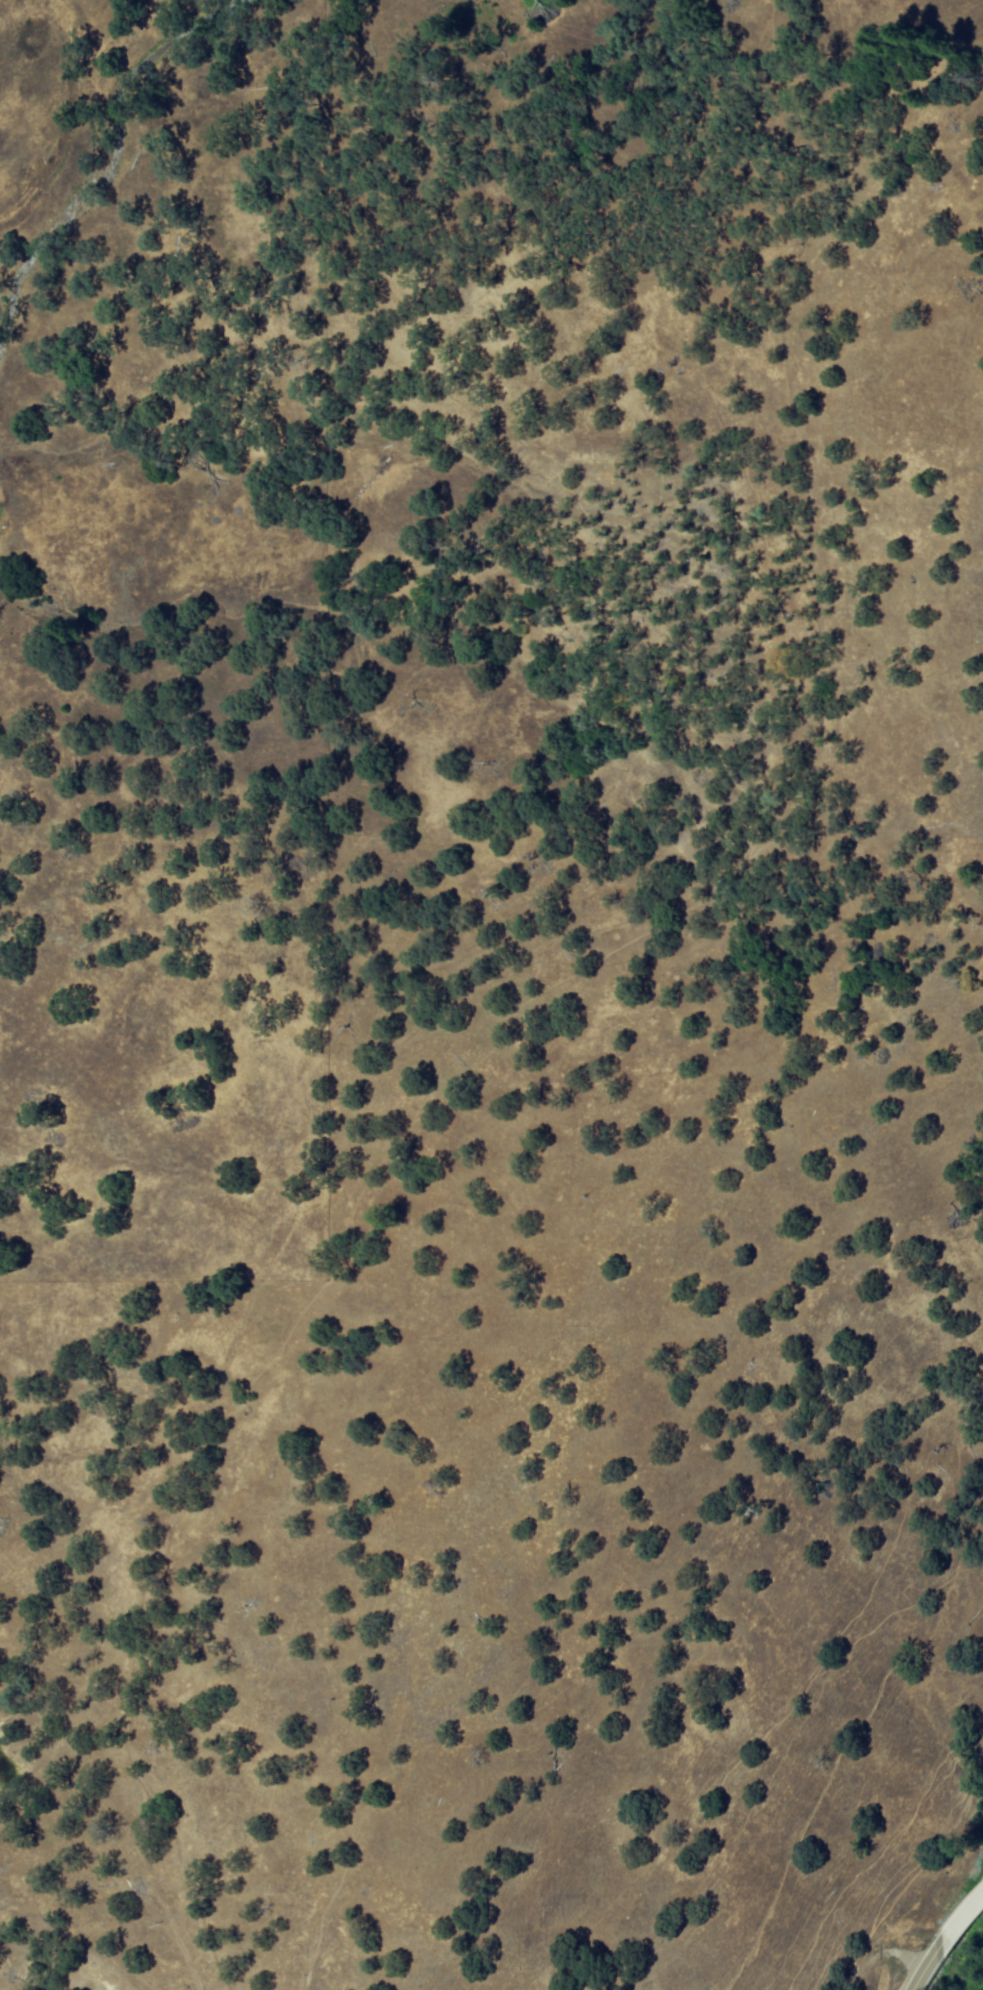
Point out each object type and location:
road: (948, 1941)

